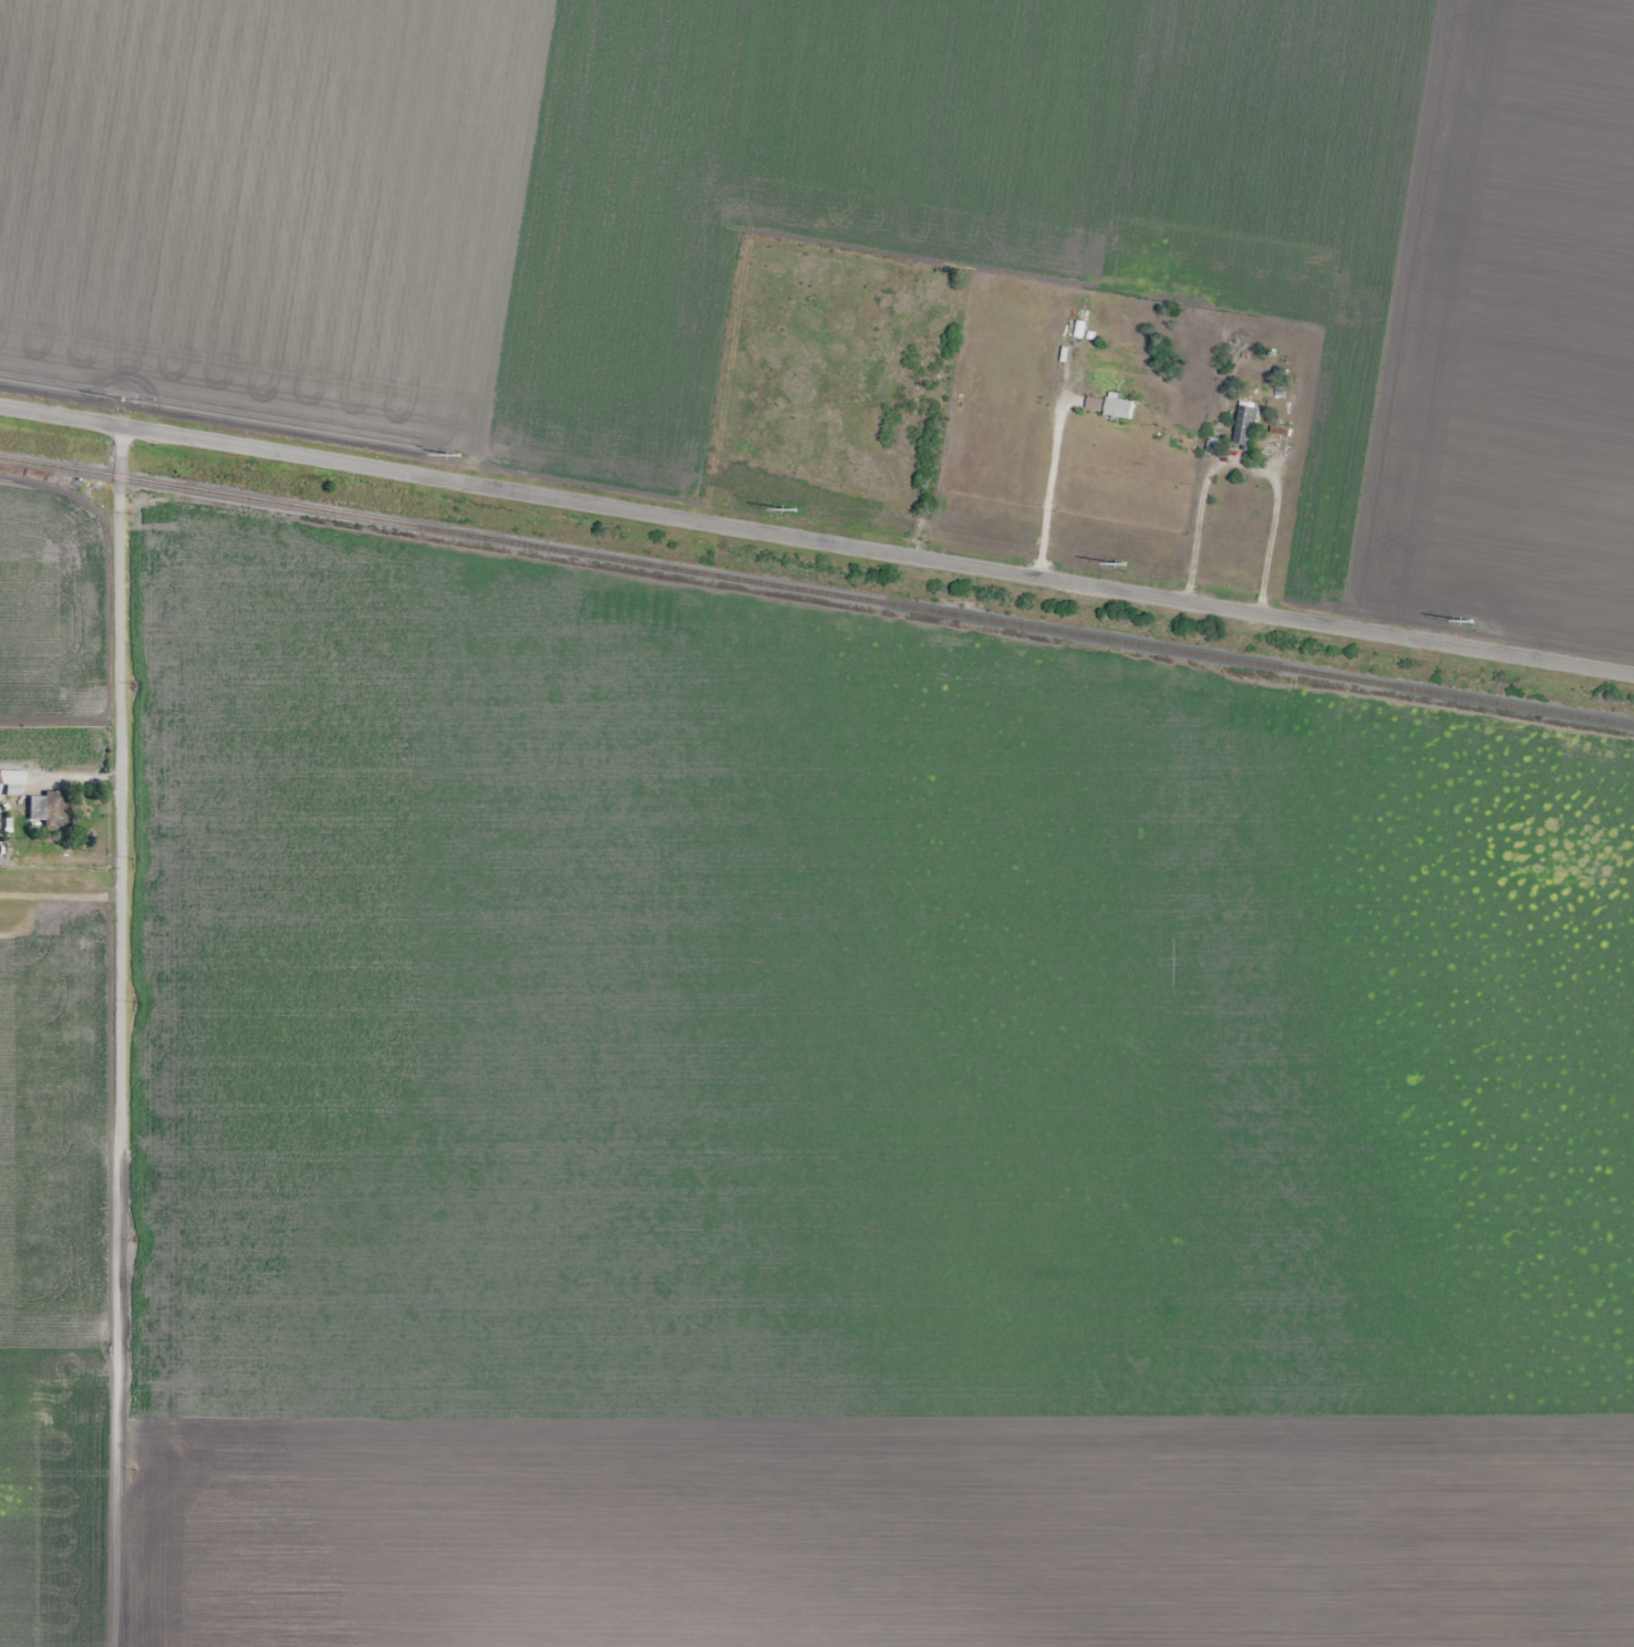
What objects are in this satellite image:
building: (1083, 323)
building: (931, 359)
building: (916, 394)
power tower: (116, 402)
building: (1250, 425)
power tower: (452, 456)
power tower: (788, 512)
road: (817, 539)
power tower: (1128, 569)
railway: (816, 591)
power tower: (1464, 621)
building: (12, 777)
building: (50, 810)
road: (121, 1036)

